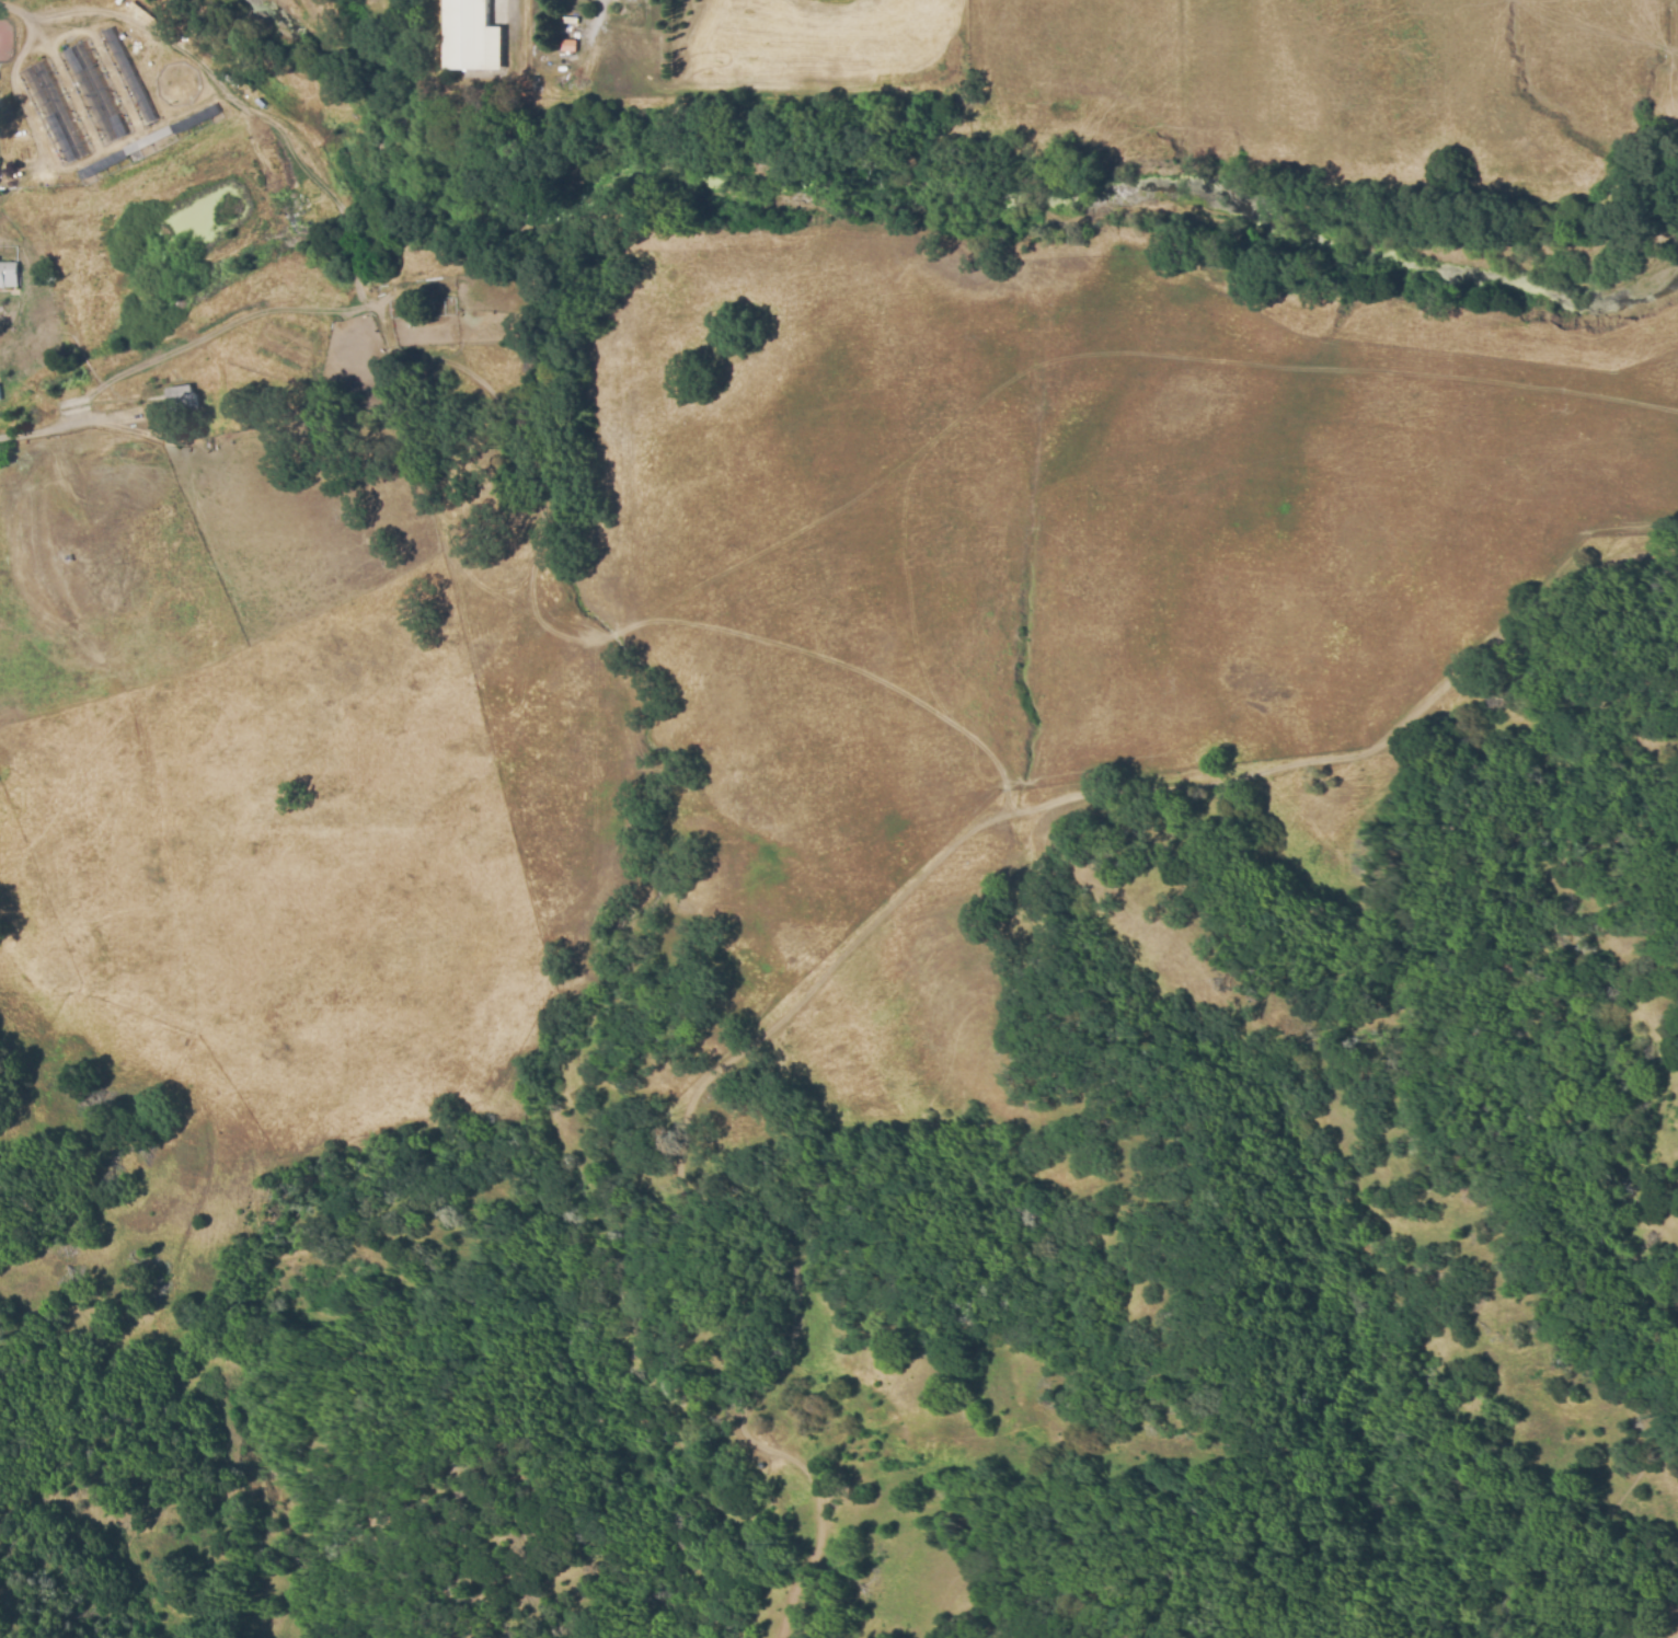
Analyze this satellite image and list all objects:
building: (473, 36)
park: (3, 43)
building: (570, 47)
building: (9, 275)
building: (0, 397)
building: (183, 402)
road: (58, 426)

